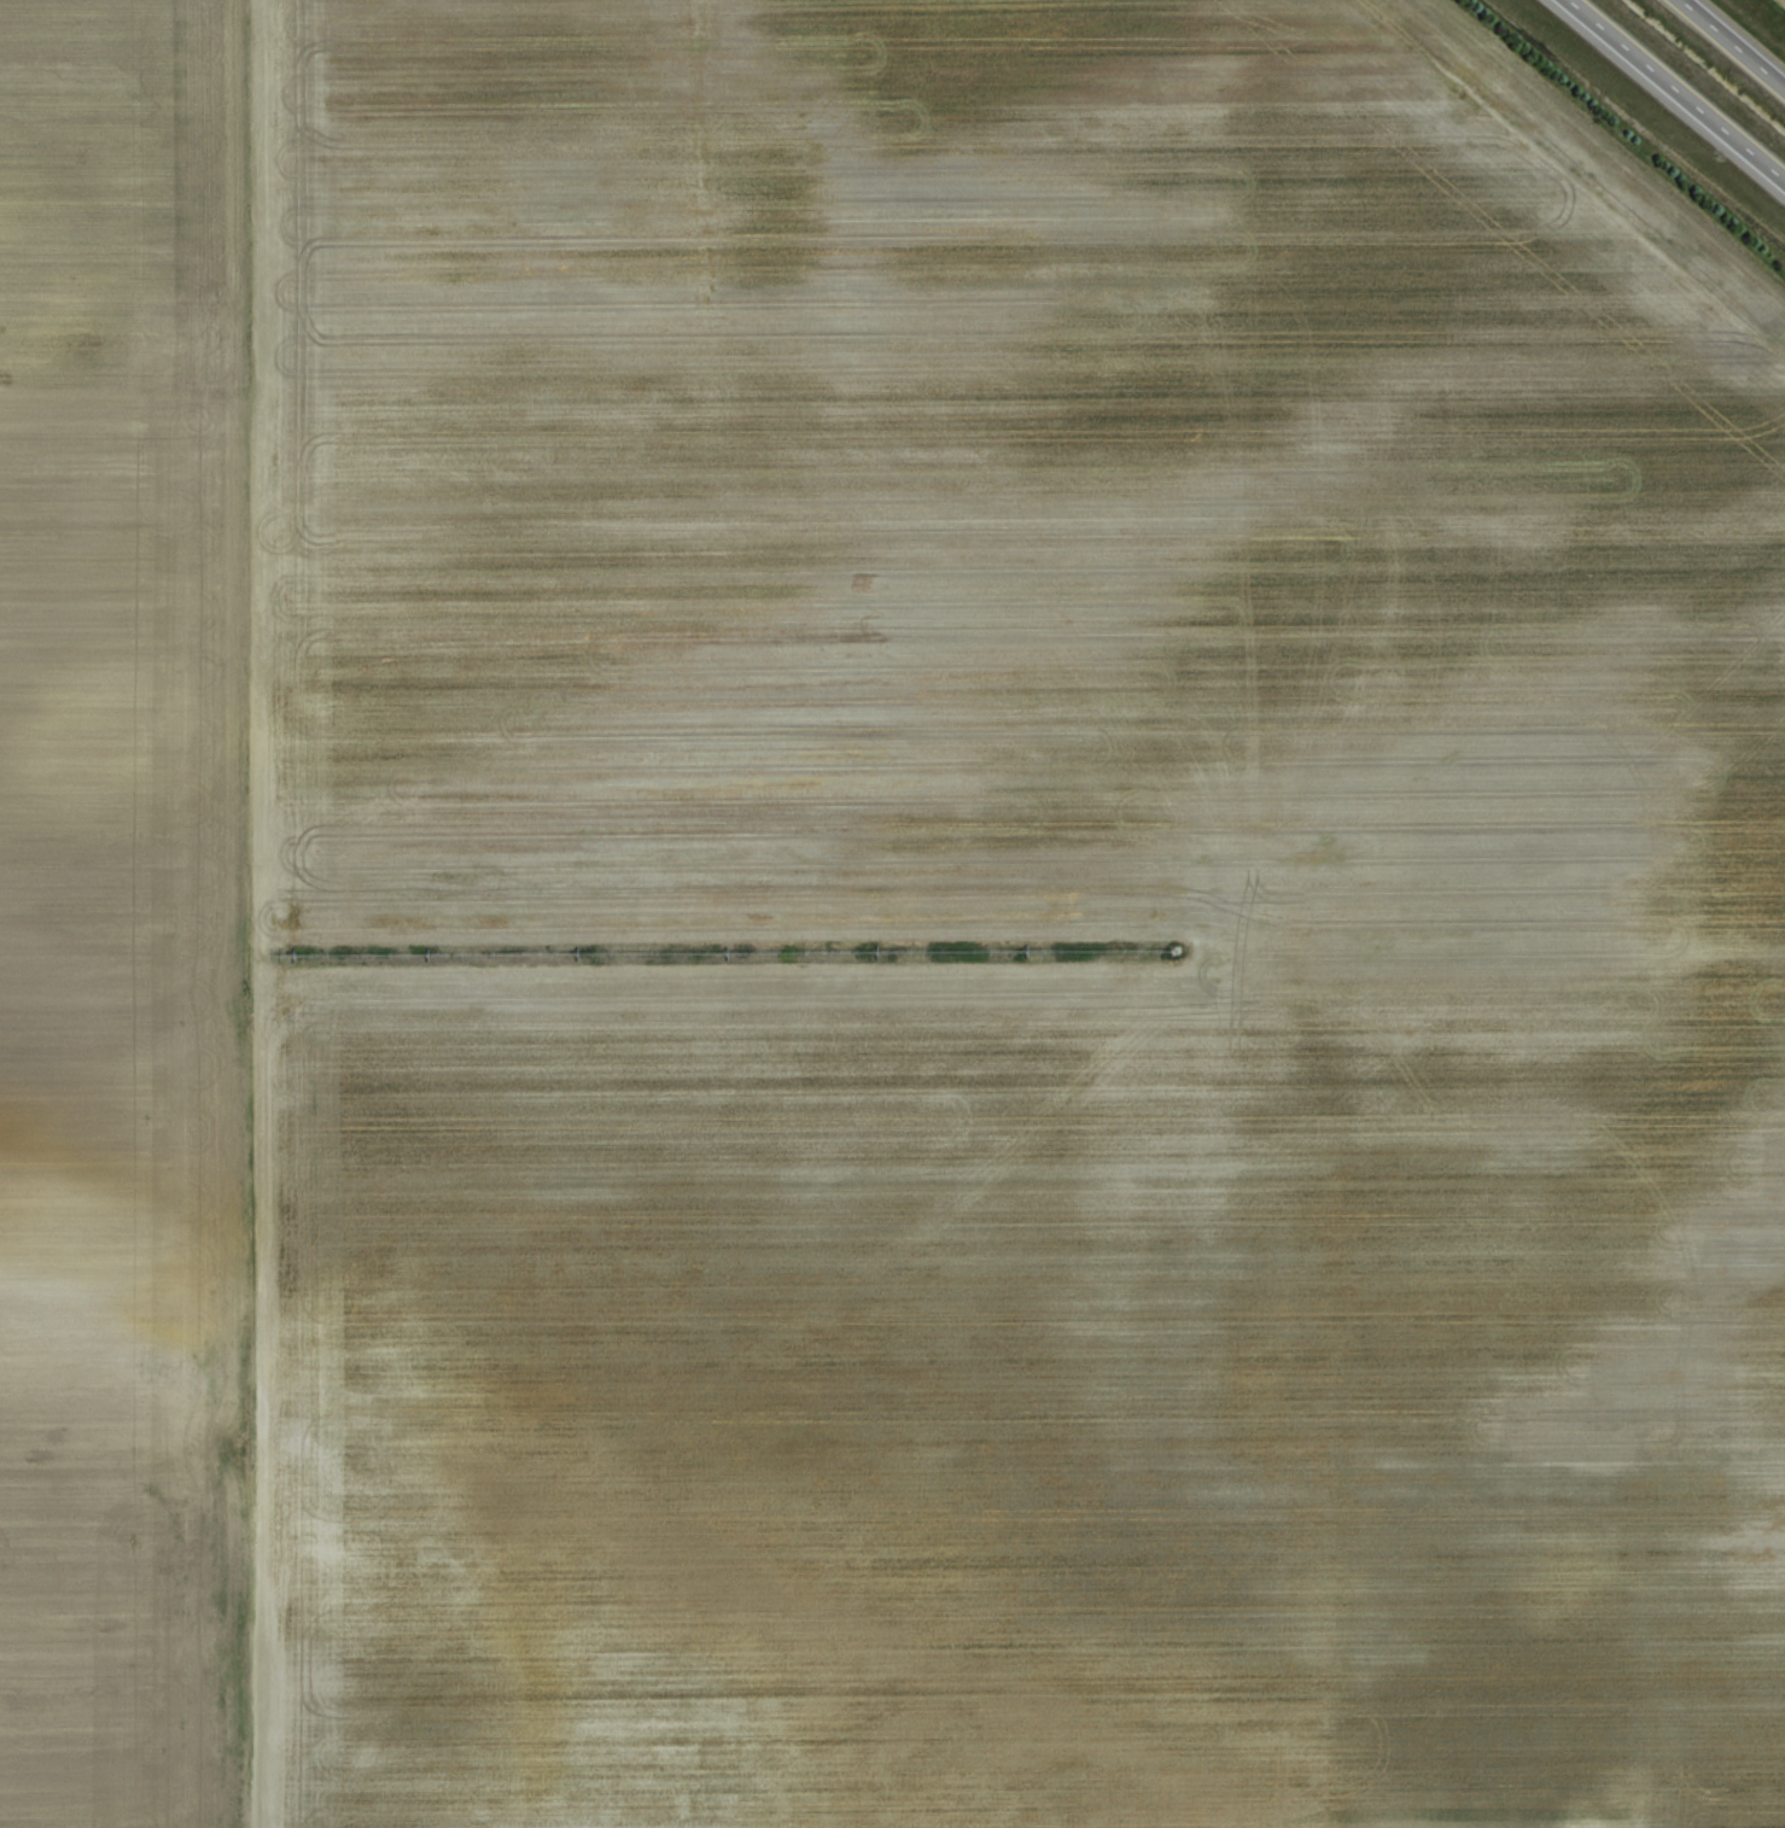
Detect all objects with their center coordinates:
road: (1737, 40)
road: (1673, 93)

